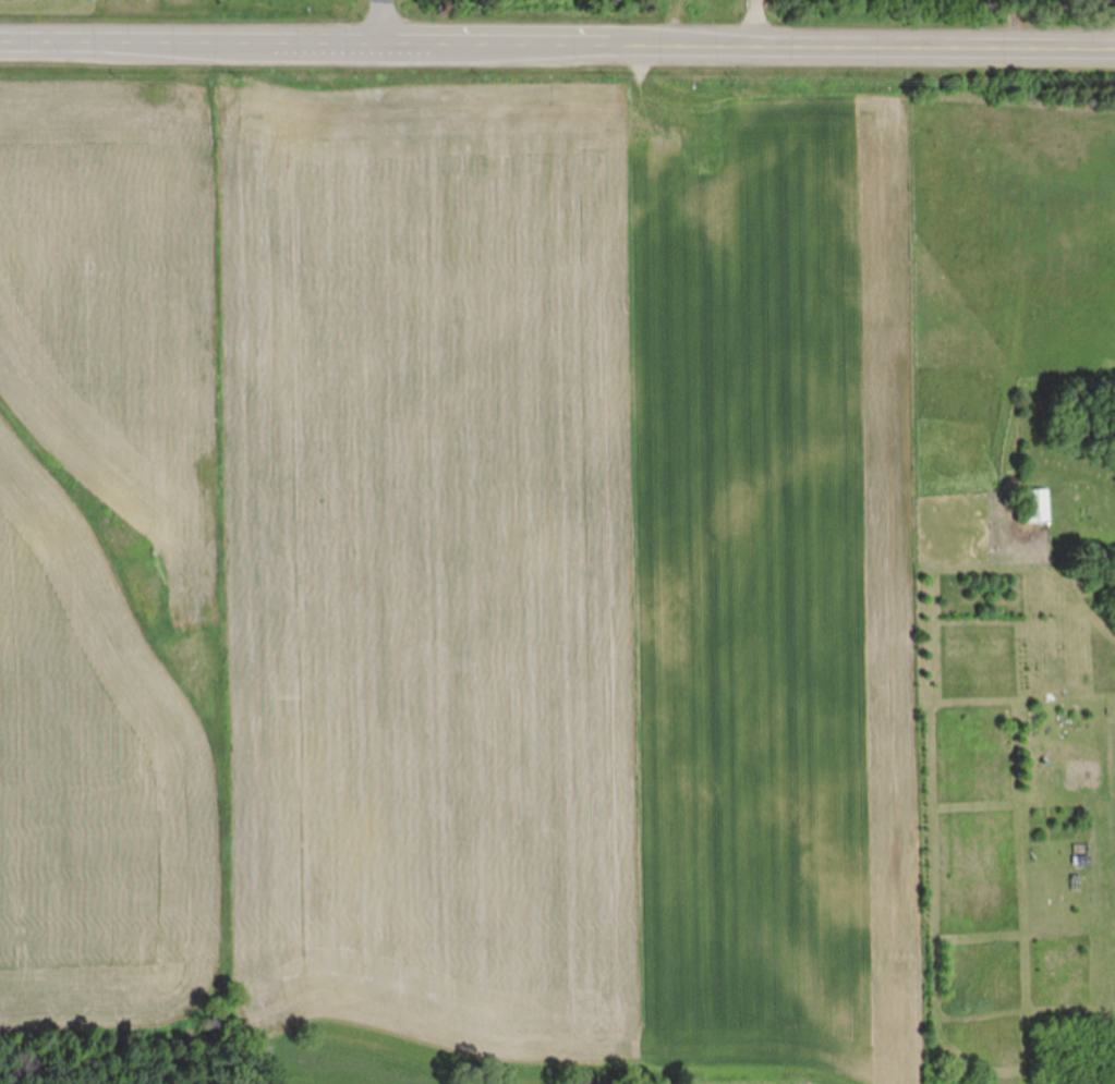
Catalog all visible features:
road: (380, 23)
road: (751, 23)
road: (557, 46)
building: (1037, 506)

